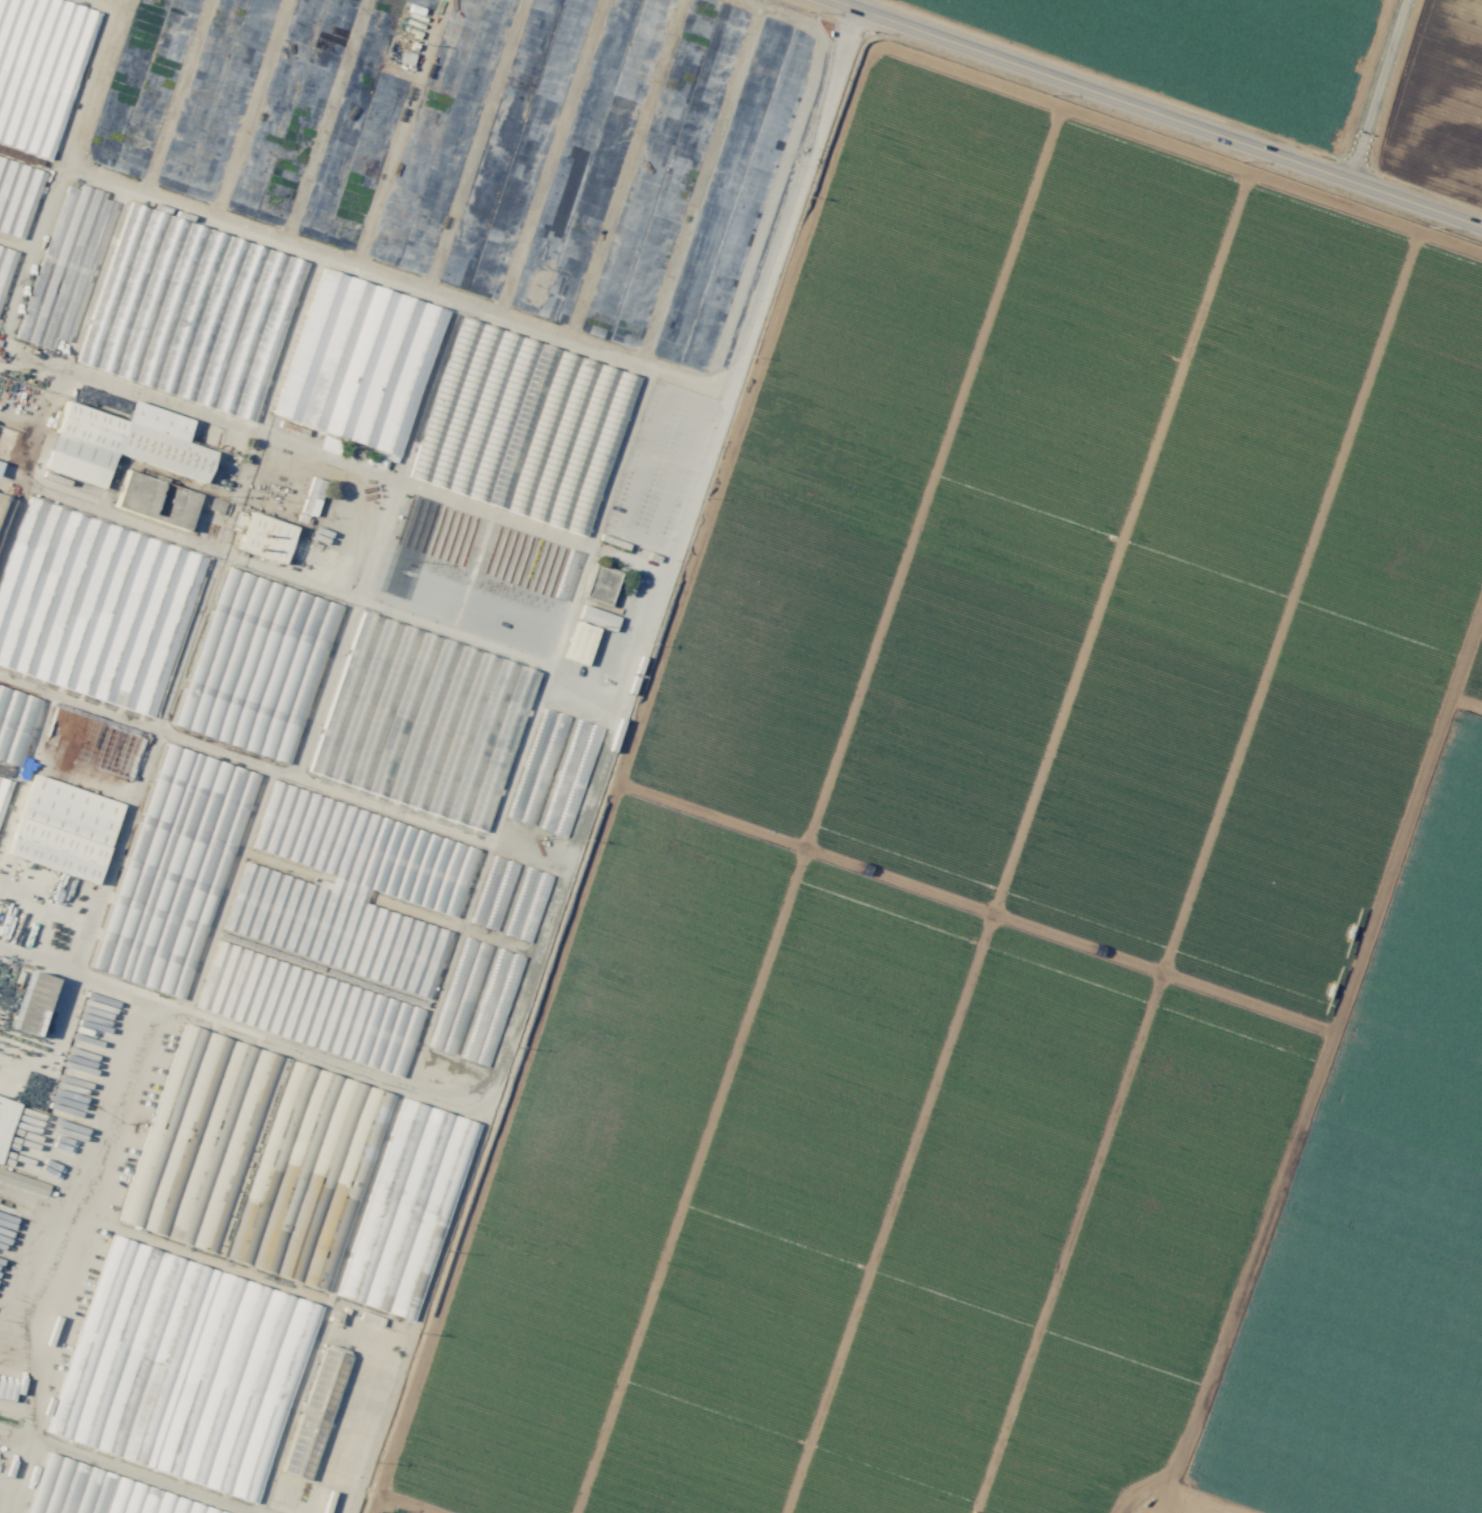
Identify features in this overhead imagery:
building: (39, 70)
road: (1376, 91)
road: (1158, 113)
road: (1181, 147)
building: (17, 193)
building: (64, 266)
building: (5, 267)
building: (191, 312)
building: (360, 363)
building: (122, 443)
building: (435, 479)
building: (312, 496)
building: (156, 500)
building: (216, 505)
building: (265, 537)
building: (94, 606)
building: (592, 616)
building: (580, 643)
building: (256, 665)
building: (15, 722)
building: (435, 726)
road: (618, 773)
building: (4, 791)
road: (589, 795)
road: (807, 806)
crop: (1024, 824)
building: (64, 829)
road: (1012, 841)
building: (173, 871)
road: (1191, 871)
building: (350, 889)
building: (493, 893)
building: (523, 894)
road: (974, 895)
building: (307, 964)
building: (457, 997)
building: (33, 1003)
building: (491, 1008)
building: (309, 1009)
road: (1319, 1049)
building: (6, 1121)
building: (23, 1183)
building: (407, 1210)
building: (236, 1254)
road: (85, 1258)
building: (183, 1369)
building: (316, 1417)
road: (120, 1471)
road: (1140, 1491)
building: (100, 1493)
road: (1206, 1498)
road: (31, 1502)
road: (400, 1503)

